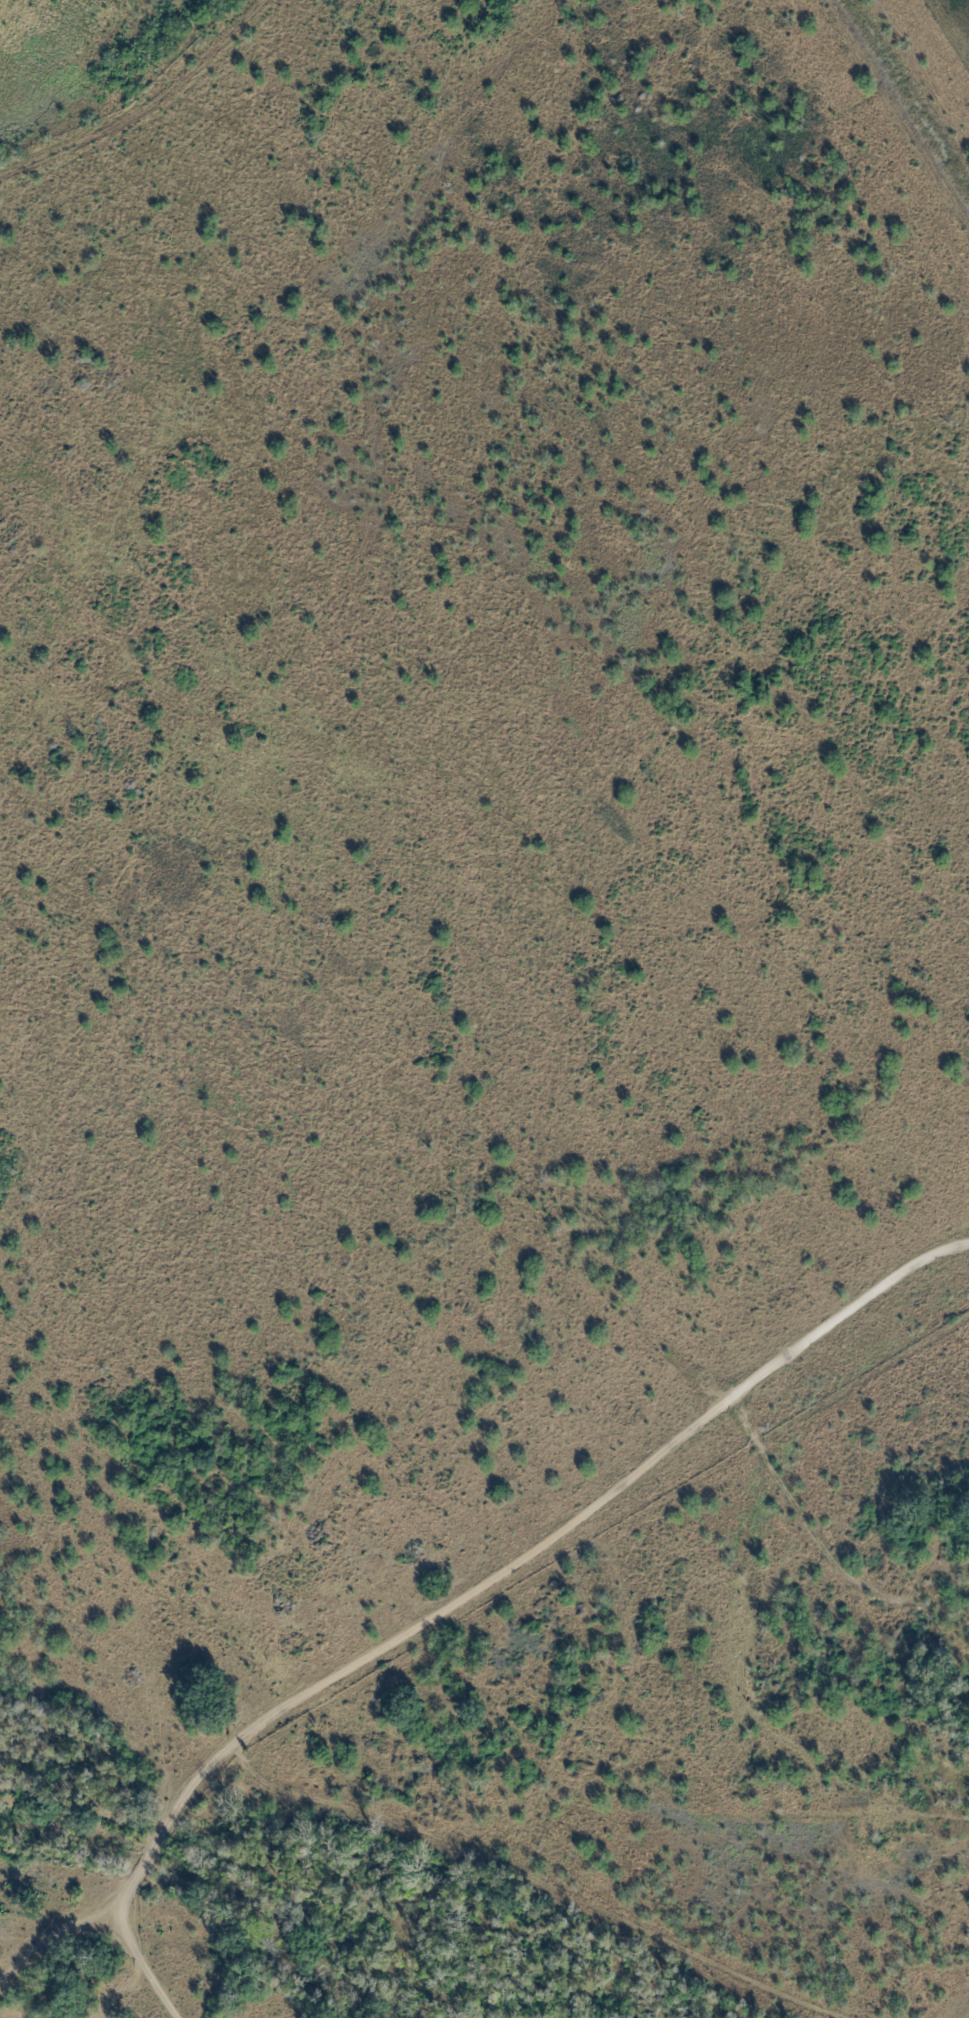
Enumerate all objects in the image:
road: (595, 1503)
road: (232, 1800)
road: (657, 1939)

